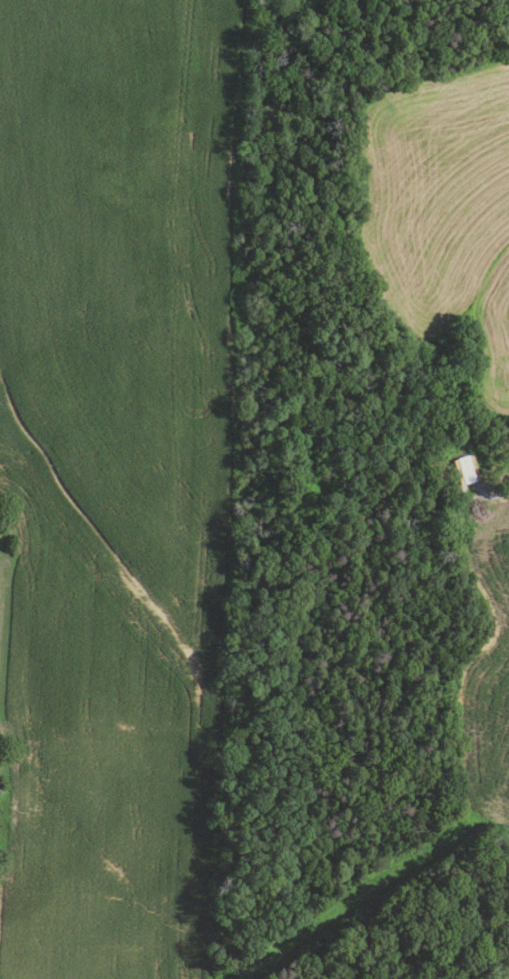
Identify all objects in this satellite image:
crop: (441, 201)
building: (465, 470)
crop: (487, 668)
crop: (508, 978)

